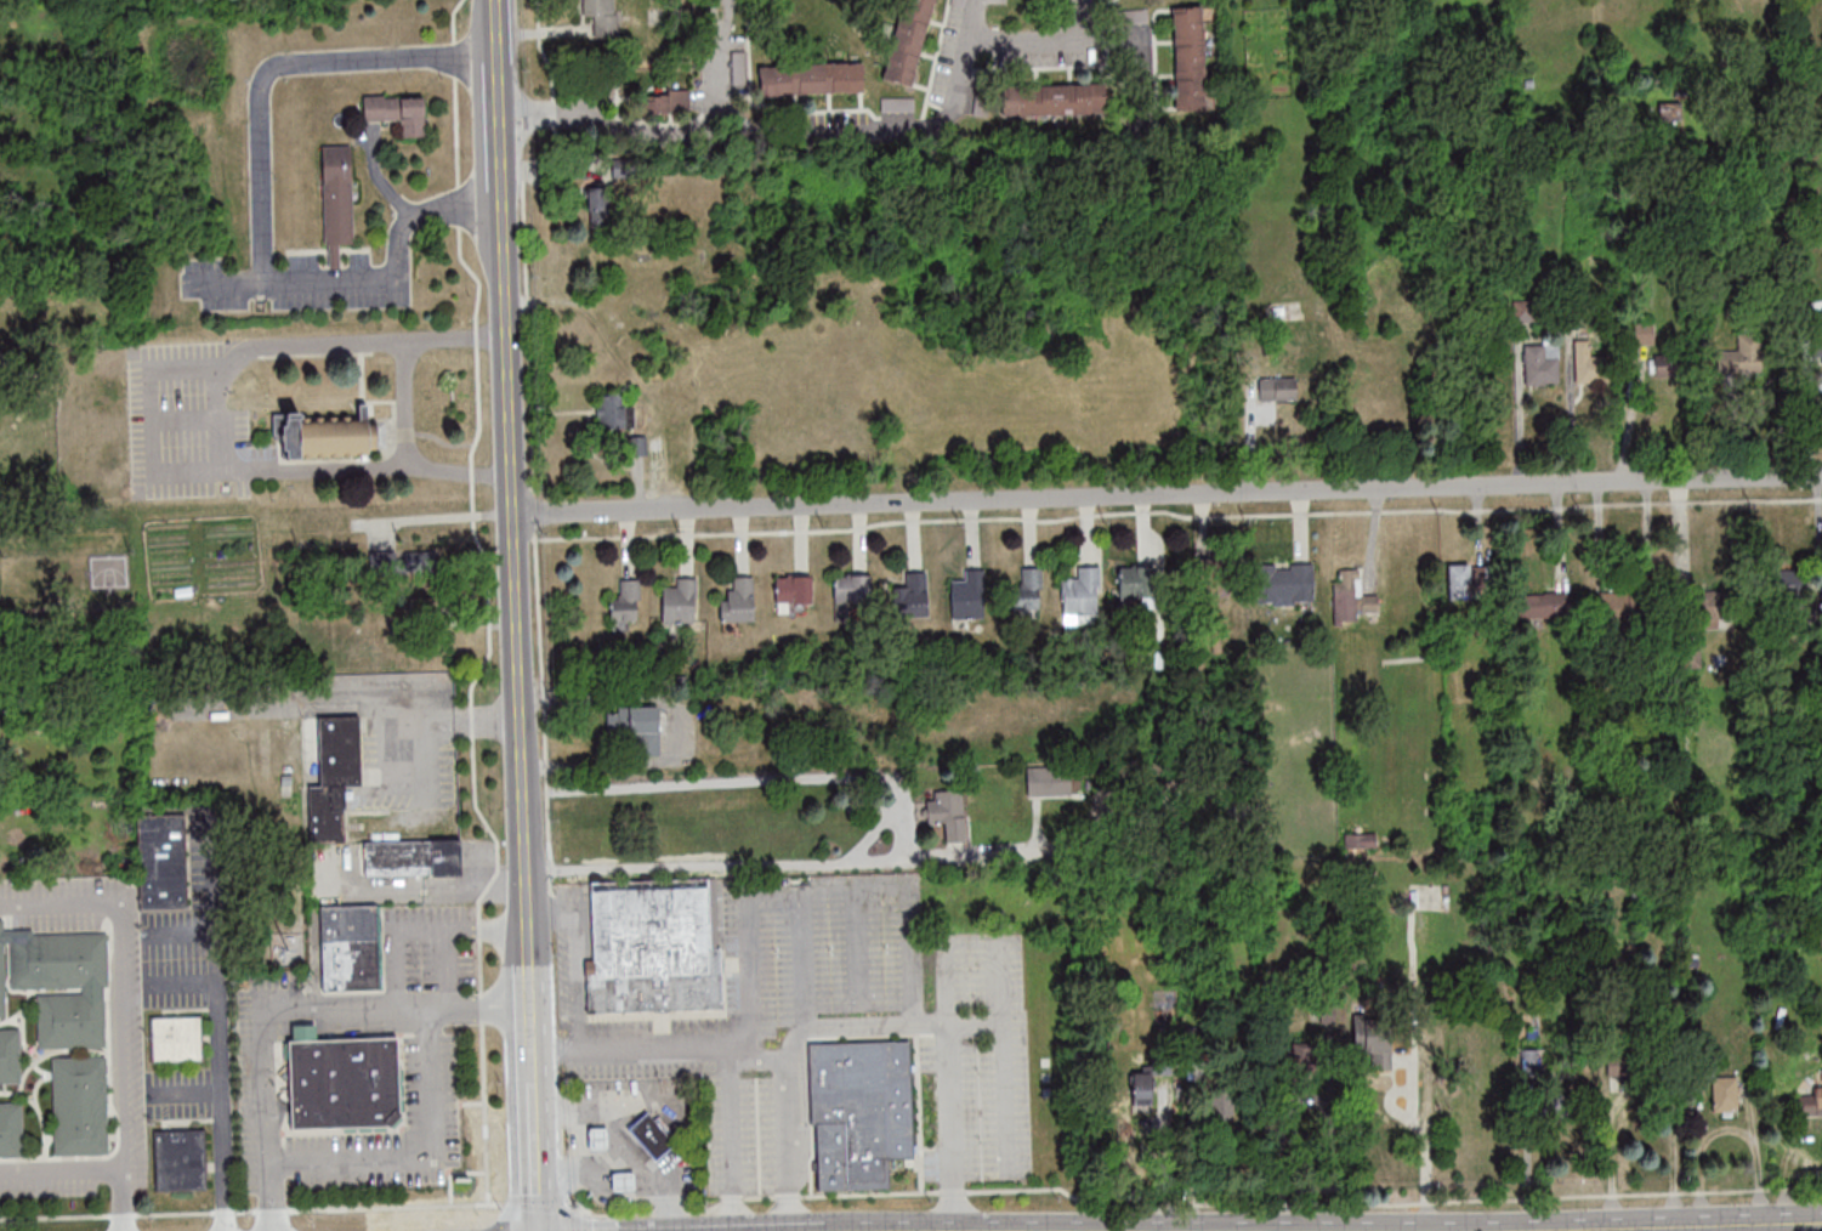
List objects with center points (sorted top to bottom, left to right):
building: (958, 2)
building: (602, 16)
road: (972, 18)
road: (493, 33)
road: (1038, 39)
building: (908, 41)
building: (1188, 57)
building: (738, 67)
building: (811, 79)
building: (1054, 100)
building: (668, 101)
building: (897, 103)
building: (398, 114)
road: (613, 125)
road: (496, 131)
road: (822, 131)
road: (378, 178)
building: (337, 202)
road: (260, 203)
building: (602, 208)
road: (223, 282)
building: (1644, 331)
building: (1816, 333)
building: (1742, 356)
building: (1589, 361)
building: (1540, 363)
building: (1667, 365)
building: (1277, 388)
road: (408, 405)
building: (612, 410)
road: (147, 418)
building: (329, 437)
building: (641, 446)
road: (1168, 494)
building: (382, 561)
building: (425, 562)
building: (1216, 577)
building: (1470, 577)
building: (1135, 580)
building: (1284, 582)
building: (851, 588)
building: (1027, 589)
building: (1784, 589)
building: (793, 592)
building: (1082, 592)
building: (912, 595)
building: (967, 595)
building: (1351, 599)
road: (517, 600)
building: (738, 600)
building: (680, 601)
building: (625, 602)
building: (1544, 605)
building: (1617, 605)
building: (1705, 609)
road: (337, 688)
road: (487, 721)
building: (635, 728)
road: (682, 728)
building: (1637, 743)
building: (1705, 756)
building: (330, 764)
building: (1048, 784)
road: (896, 799)
building: (948, 812)
building: (1360, 843)
building: (411, 857)
road: (967, 857)
building: (161, 862)
road: (817, 881)
road: (473, 885)
road: (381, 886)
road: (420, 926)
road: (177, 931)
building: (348, 947)
building: (652, 947)
road: (804, 954)
road: (999, 978)
road: (120, 980)
road: (180, 981)
building: (58, 983)
road: (288, 1010)
road: (216, 1020)
road: (876, 1020)
road: (530, 1023)
building: (177, 1037)
building: (1373, 1040)
road: (632, 1043)
road: (762, 1054)
building: (10, 1056)
building: (1537, 1061)
road: (1004, 1066)
building: (340, 1080)
building: (1150, 1082)
road: (183, 1089)
road: (1646, 1094)
building: (1724, 1095)
building: (1809, 1102)
building: (80, 1105)
building: (1561, 1106)
building: (859, 1112)
building: (1237, 1113)
road: (954, 1124)
road: (794, 1127)
building: (11, 1129)
building: (653, 1134)
road: (733, 1134)
road: (533, 1136)
building: (596, 1139)
road: (623, 1139)
road: (422, 1155)
building: (180, 1158)
road: (1427, 1164)
road: (585, 1168)
road: (61, 1173)
building: (621, 1181)
road: (121, 1202)
road: (1670, 1226)

